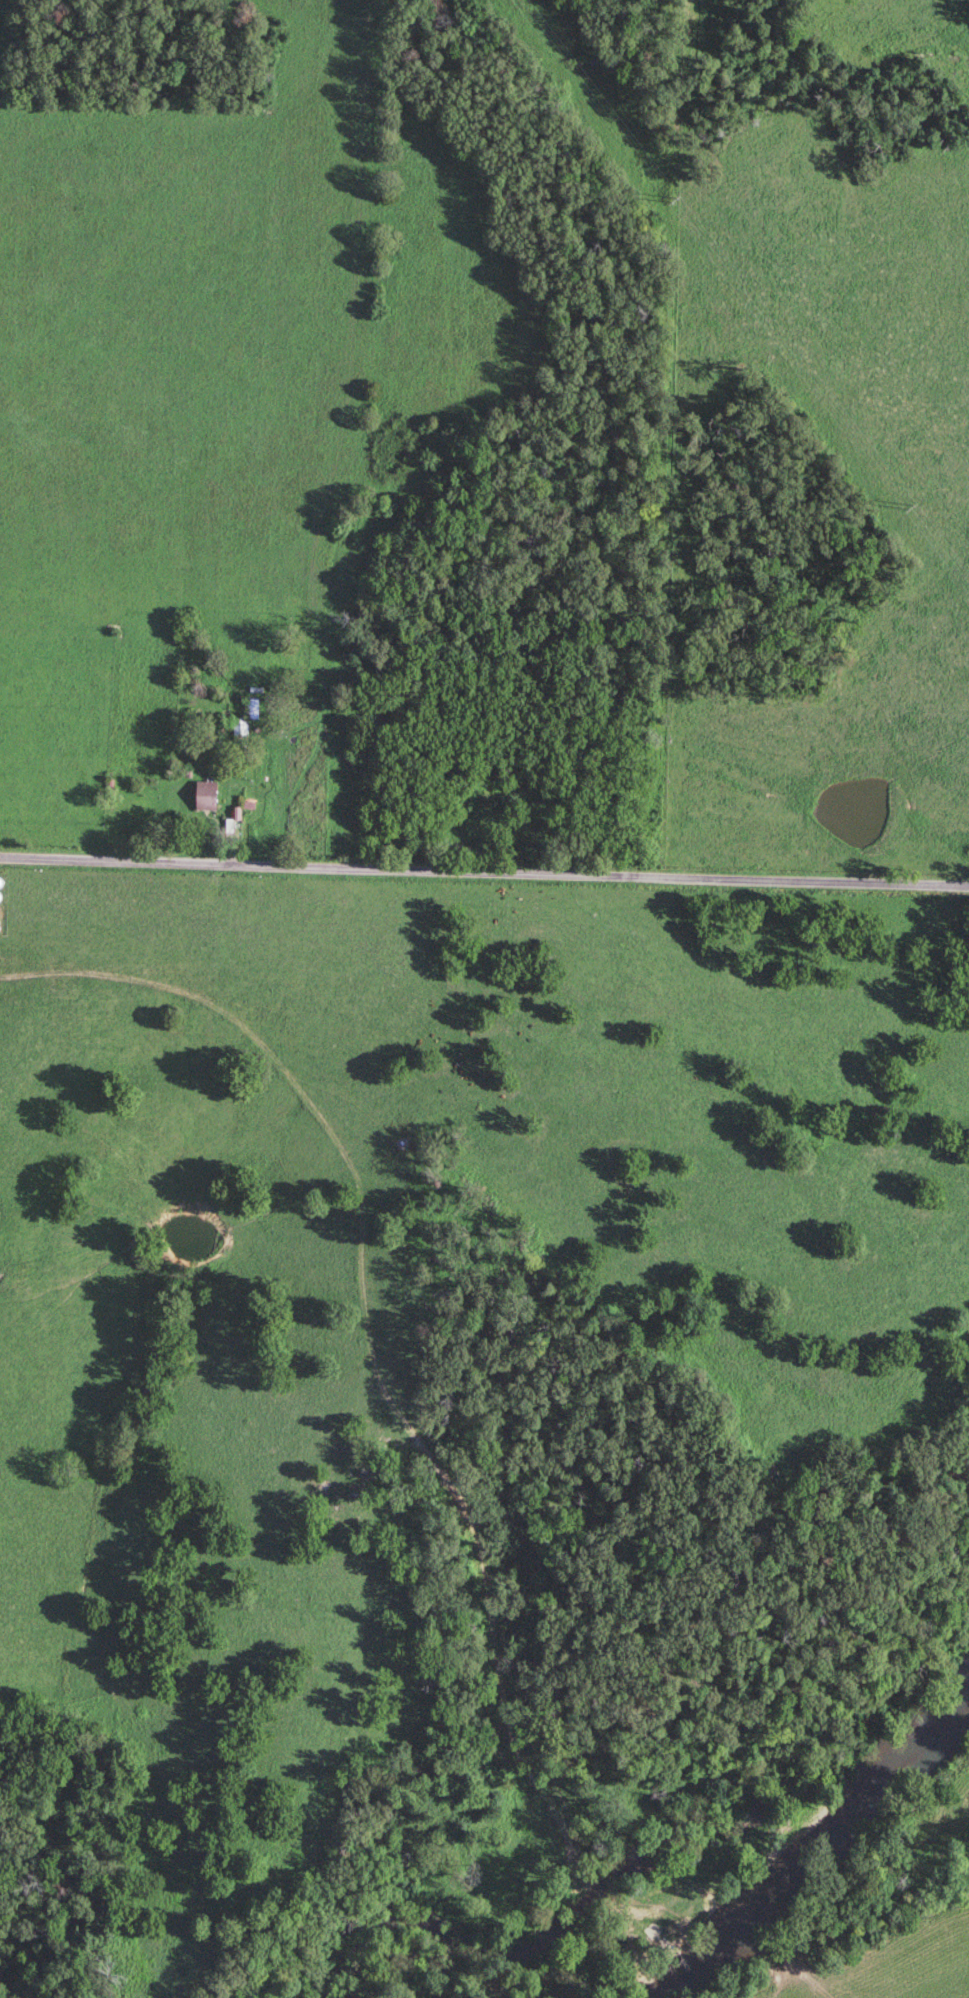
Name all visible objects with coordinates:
building: (253, 706)
building: (208, 793)
building: (248, 805)
road: (484, 870)

